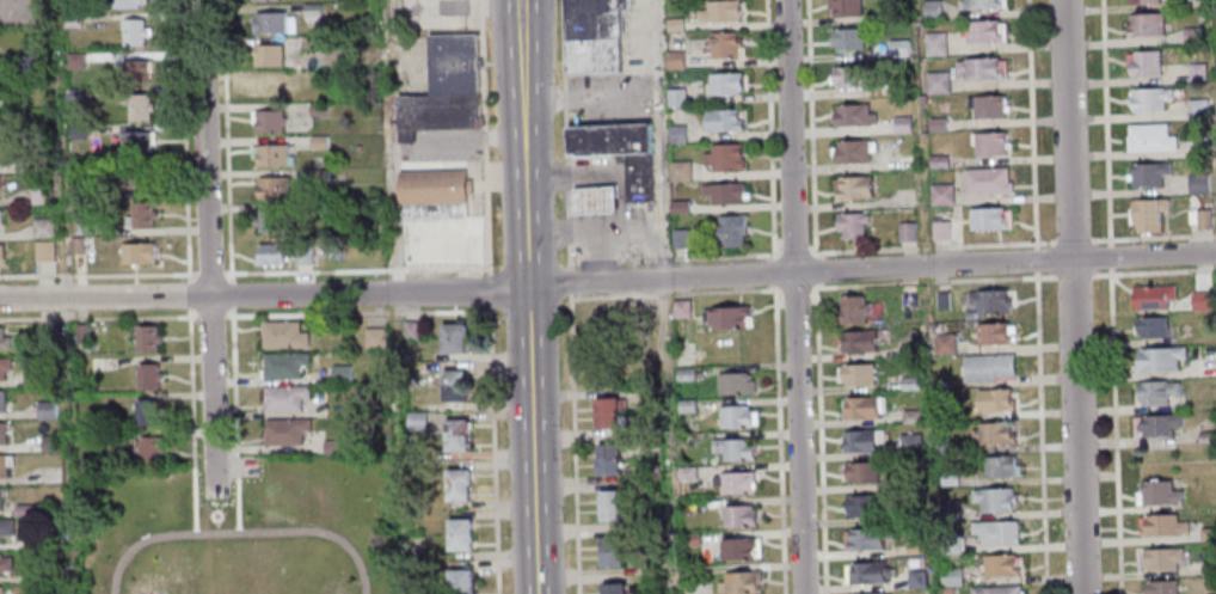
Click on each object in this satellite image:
building: (125, 2)
building: (1143, 2)
building: (981, 5)
building: (845, 8)
building: (311, 10)
building: (933, 10)
building: (719, 11)
parking lot: (24, 12)
road: (520, 14)
road: (16, 17)
building: (592, 19)
building: (72, 22)
building: (266, 22)
building: (673, 24)
building: (1146, 26)
building: (134, 31)
building: (981, 32)
building: (1191, 36)
building: (847, 41)
building: (308, 42)
building: (721, 44)
building: (935, 44)
building: (898, 49)
building: (266, 53)
building: (592, 56)
building: (674, 60)
building: (1, 61)
building: (74, 61)
building: (31, 65)
building: (1144, 65)
building: (135, 69)
building: (982, 69)
building: (1197, 73)
building: (312, 75)
building: (849, 79)
building: (725, 82)
building: (938, 84)
building: (272, 88)
building: (446, 88)
building: (901, 90)
building: (0, 94)
building: (73, 94)
building: (675, 97)
building: (14, 100)
building: (1149, 100)
building: (136, 105)
building: (987, 108)
building: (317, 109)
building: (1197, 110)
building: (853, 118)
building: (268, 120)
building: (724, 120)
road: (1106, 121)
road: (1032, 123)
building: (936, 124)
building: (902, 125)
road: (812, 128)
road: (770, 130)
road: (1067, 130)
building: (78, 131)
road: (565, 133)
building: (675, 134)
building: (608, 137)
road: (227, 139)
building: (136, 140)
road: (184, 140)
road: (661, 140)
building: (1149, 140)
building: (317, 141)
building: (989, 145)
road: (389, 146)
building: (1198, 148)
building: (853, 153)
building: (271, 154)
building: (723, 155)
building: (36, 159)
building: (939, 163)
building: (678, 170)
building: (134, 173)
building: (317, 176)
building: (637, 176)
building: (1148, 176)
building: (987, 184)
building: (1197, 185)
building: (271, 186)
building: (854, 189)
building: (39, 192)
building: (723, 192)
building: (435, 194)
building: (941, 196)
building: (595, 198)
building: (678, 207)
building: (313, 209)
building: (140, 214)
building: (0, 216)
building: (1148, 216)
building: (269, 220)
building: (988, 221)
building: (1202, 221)
building: (42, 227)
building: (852, 227)
building: (82, 228)
building: (729, 231)
building: (905, 232)
building: (940, 232)
road: (1154, 235)
building: (680, 238)
road: (778, 240)
road: (1073, 240)
parking lot: (446, 243)
building: (75, 244)
street lamp: (167, 244)
road: (796, 244)
road: (931, 246)
road: (207, 247)
building: (43, 250)
building: (0, 251)
building: (135, 251)
building: (282, 253)
road: (1110, 256)
road: (673, 258)
road: (1037, 259)
road: (821, 269)
road: (356, 270)
road: (1154, 271)
road: (209, 272)
road: (768, 272)
road: (98, 274)
road: (1074, 275)
road: (570, 280)
road: (935, 281)
road: (608, 283)
road: (232, 293)
road: (190, 294)
road: (673, 294)
building: (1151, 295)
road: (489, 296)
road: (793, 296)
building: (907, 298)
road: (796, 300)
road: (813, 300)
building: (941, 300)
building: (988, 300)
building: (1200, 300)
road: (779, 302)
building: (680, 308)
building: (852, 308)
road: (528, 311)
road: (357, 312)
building: (969, 314)
road: (211, 316)
building: (726, 316)
road: (98, 318)
building: (604, 319)
building: (1150, 325)
building: (409, 329)
building: (79, 332)
building: (993, 332)
building: (44, 333)
building: (281, 333)
building: (452, 336)
building: (145, 337)
building: (374, 338)
building: (4, 339)
building: (855, 339)
building: (944, 343)
building: (907, 350)
building: (1157, 357)
building: (4, 365)
building: (282, 365)
building: (985, 366)
building: (1203, 368)
building: (340, 373)
building: (856, 373)
building: (684, 374)
building: (146, 375)
building: (31, 378)
building: (733, 382)
building: (908, 382)
building: (453, 384)
road: (190, 387)
road: (234, 391)
building: (1154, 391)
building: (282, 398)
building: (993, 398)
building: (1, 399)
building: (686, 406)
building: (862, 406)
building: (44, 409)
building: (145, 411)
building: (608, 411)
building: (733, 416)
building: (909, 416)
building: (416, 420)
building: (1157, 423)
road: (1075, 427)
building: (283, 430)
road: (1114, 431)
building: (1, 433)
building: (991, 433)
road: (1040, 433)
building: (455, 434)
road: (822, 436)
building: (1205, 436)
building: (113, 437)
road: (780, 437)
building: (860, 439)
building: (49, 443)
road: (398, 443)
road: (575, 443)
building: (909, 443)
building: (330, 446)
building: (946, 447)
building: (148, 448)
building: (733, 448)
building: (608, 457)
building: (4, 464)
building: (999, 466)
building: (860, 471)
building: (686, 473)
building: (947, 479)
building: (913, 480)
building: (456, 483)
building: (733, 483)
building: (1157, 492)
building: (4, 498)
building: (994, 498)
road: (194, 500)
road: (237, 503)
building: (610, 503)
building: (861, 504)
building: (22, 510)
road: (216, 510)
building: (947, 512)
flagpole: (215, 515)
building: (737, 515)
building: (1161, 525)
building: (5, 526)
park: (242, 529)
road: (239, 531)
building: (459, 532)
building: (995, 532)
building: (1206, 534)
building: (866, 537)
building: (51, 540)
building: (689, 540)
building: (950, 544)
building: (914, 546)
building: (739, 549)
building: (610, 550)
building: (1160, 557)
building: (5, 564)
building: (999, 565)
building: (867, 571)
building: (53, 576)
building: (948, 577)
building: (915, 578)
building: (459, 580)
building: (738, 582)
building: (613, 587)
building: (1157, 587)
building: (1, 589)
building: (994, 589)
building: (945, 590)
building: (867, 592)
park: (149, 593)

